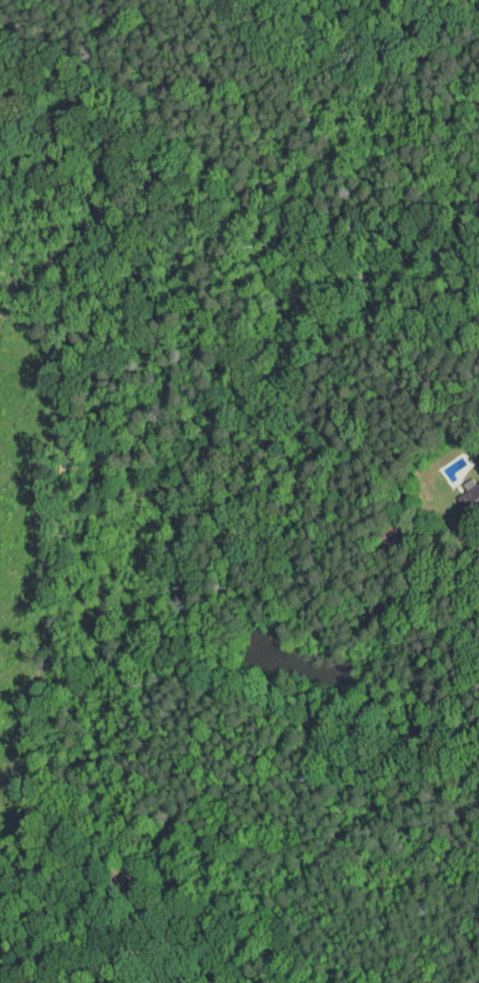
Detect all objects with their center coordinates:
building: (465, 492)

